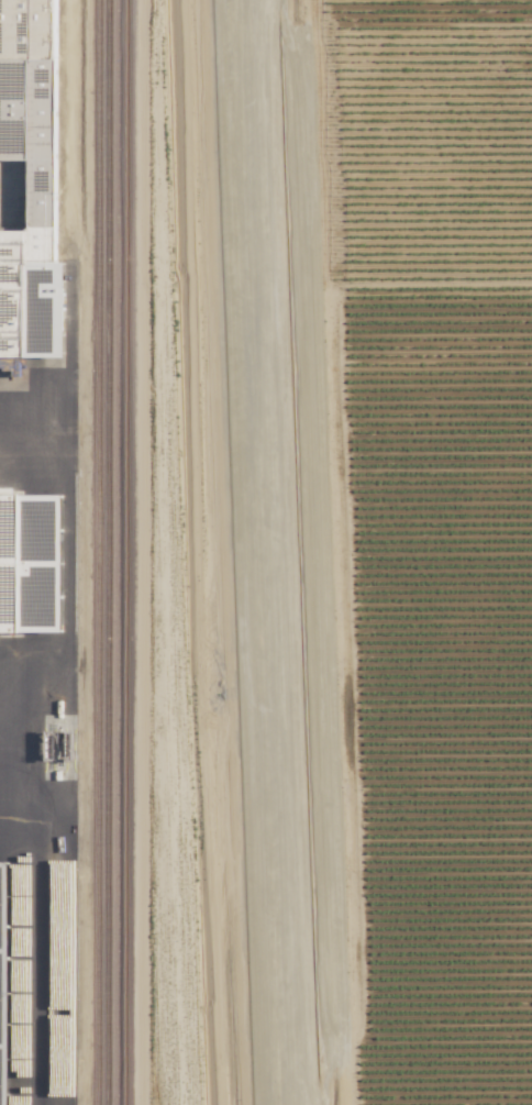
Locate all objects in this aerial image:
building: (48, 198)
railway: (98, 552)
railway: (109, 552)
railway: (126, 552)
railway: (147, 552)
railway: (174, 552)
railway: (218, 552)
railway: (239, 552)
railway: (255, 552)
railway: (273, 552)
railway: (293, 552)
building: (8, 991)
railway: (81, 1093)

